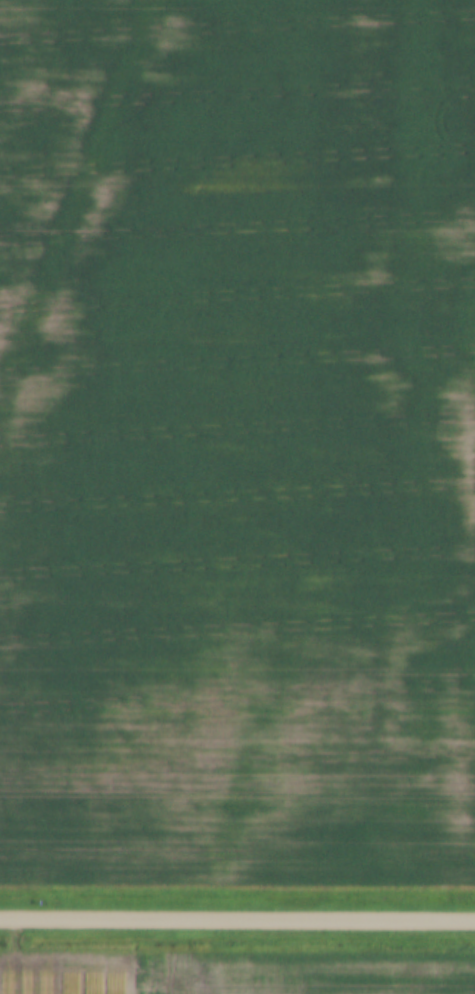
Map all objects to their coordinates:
road: (237, 924)

